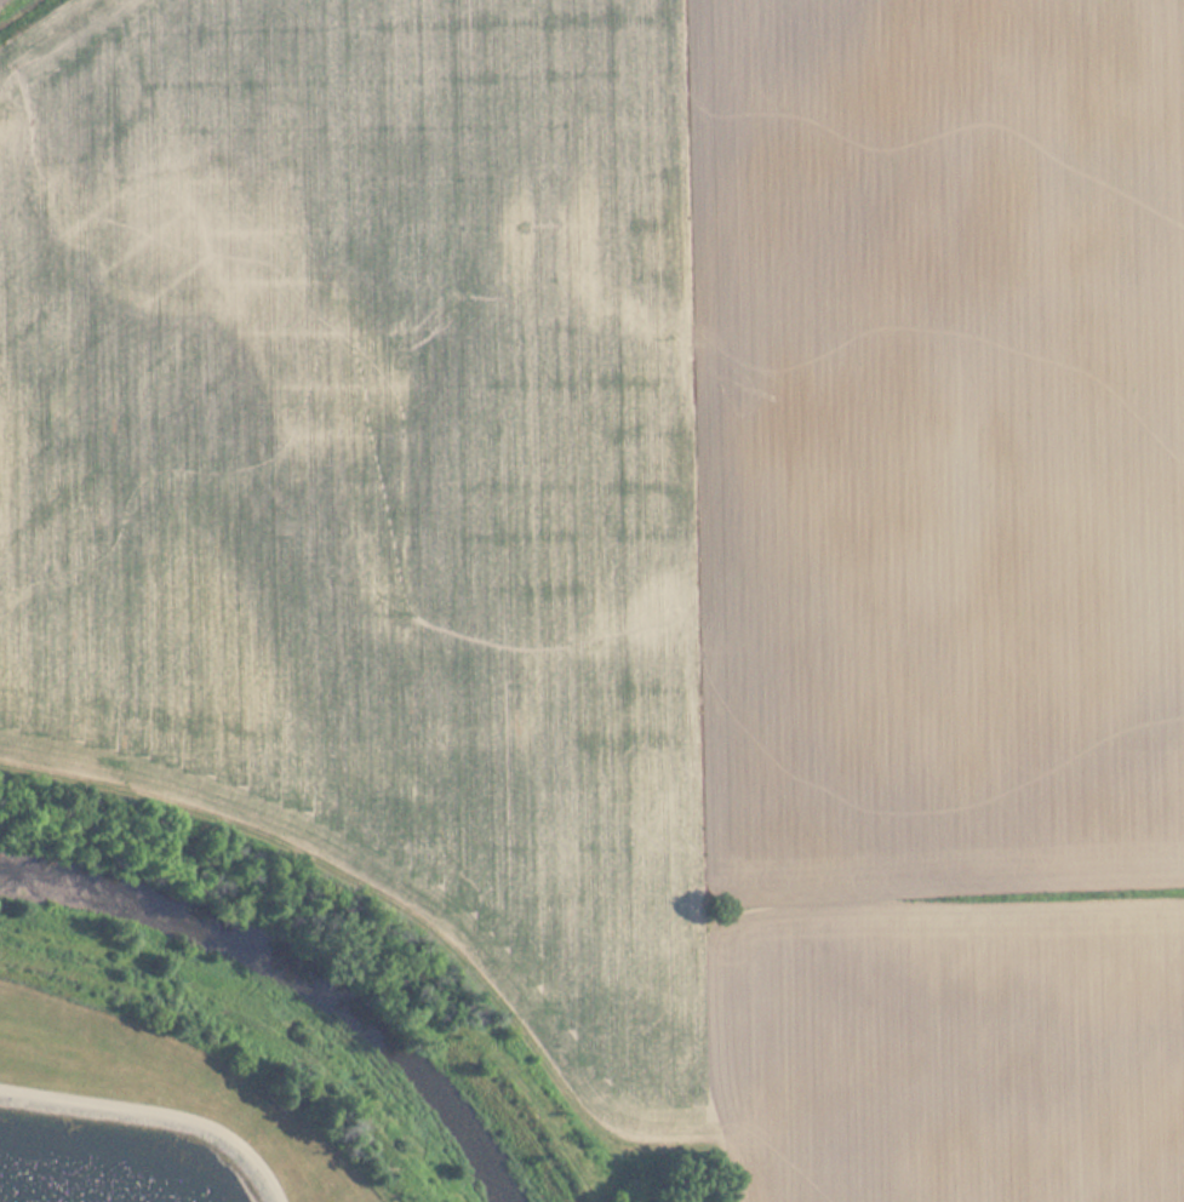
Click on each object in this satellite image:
river: (301, 973)

